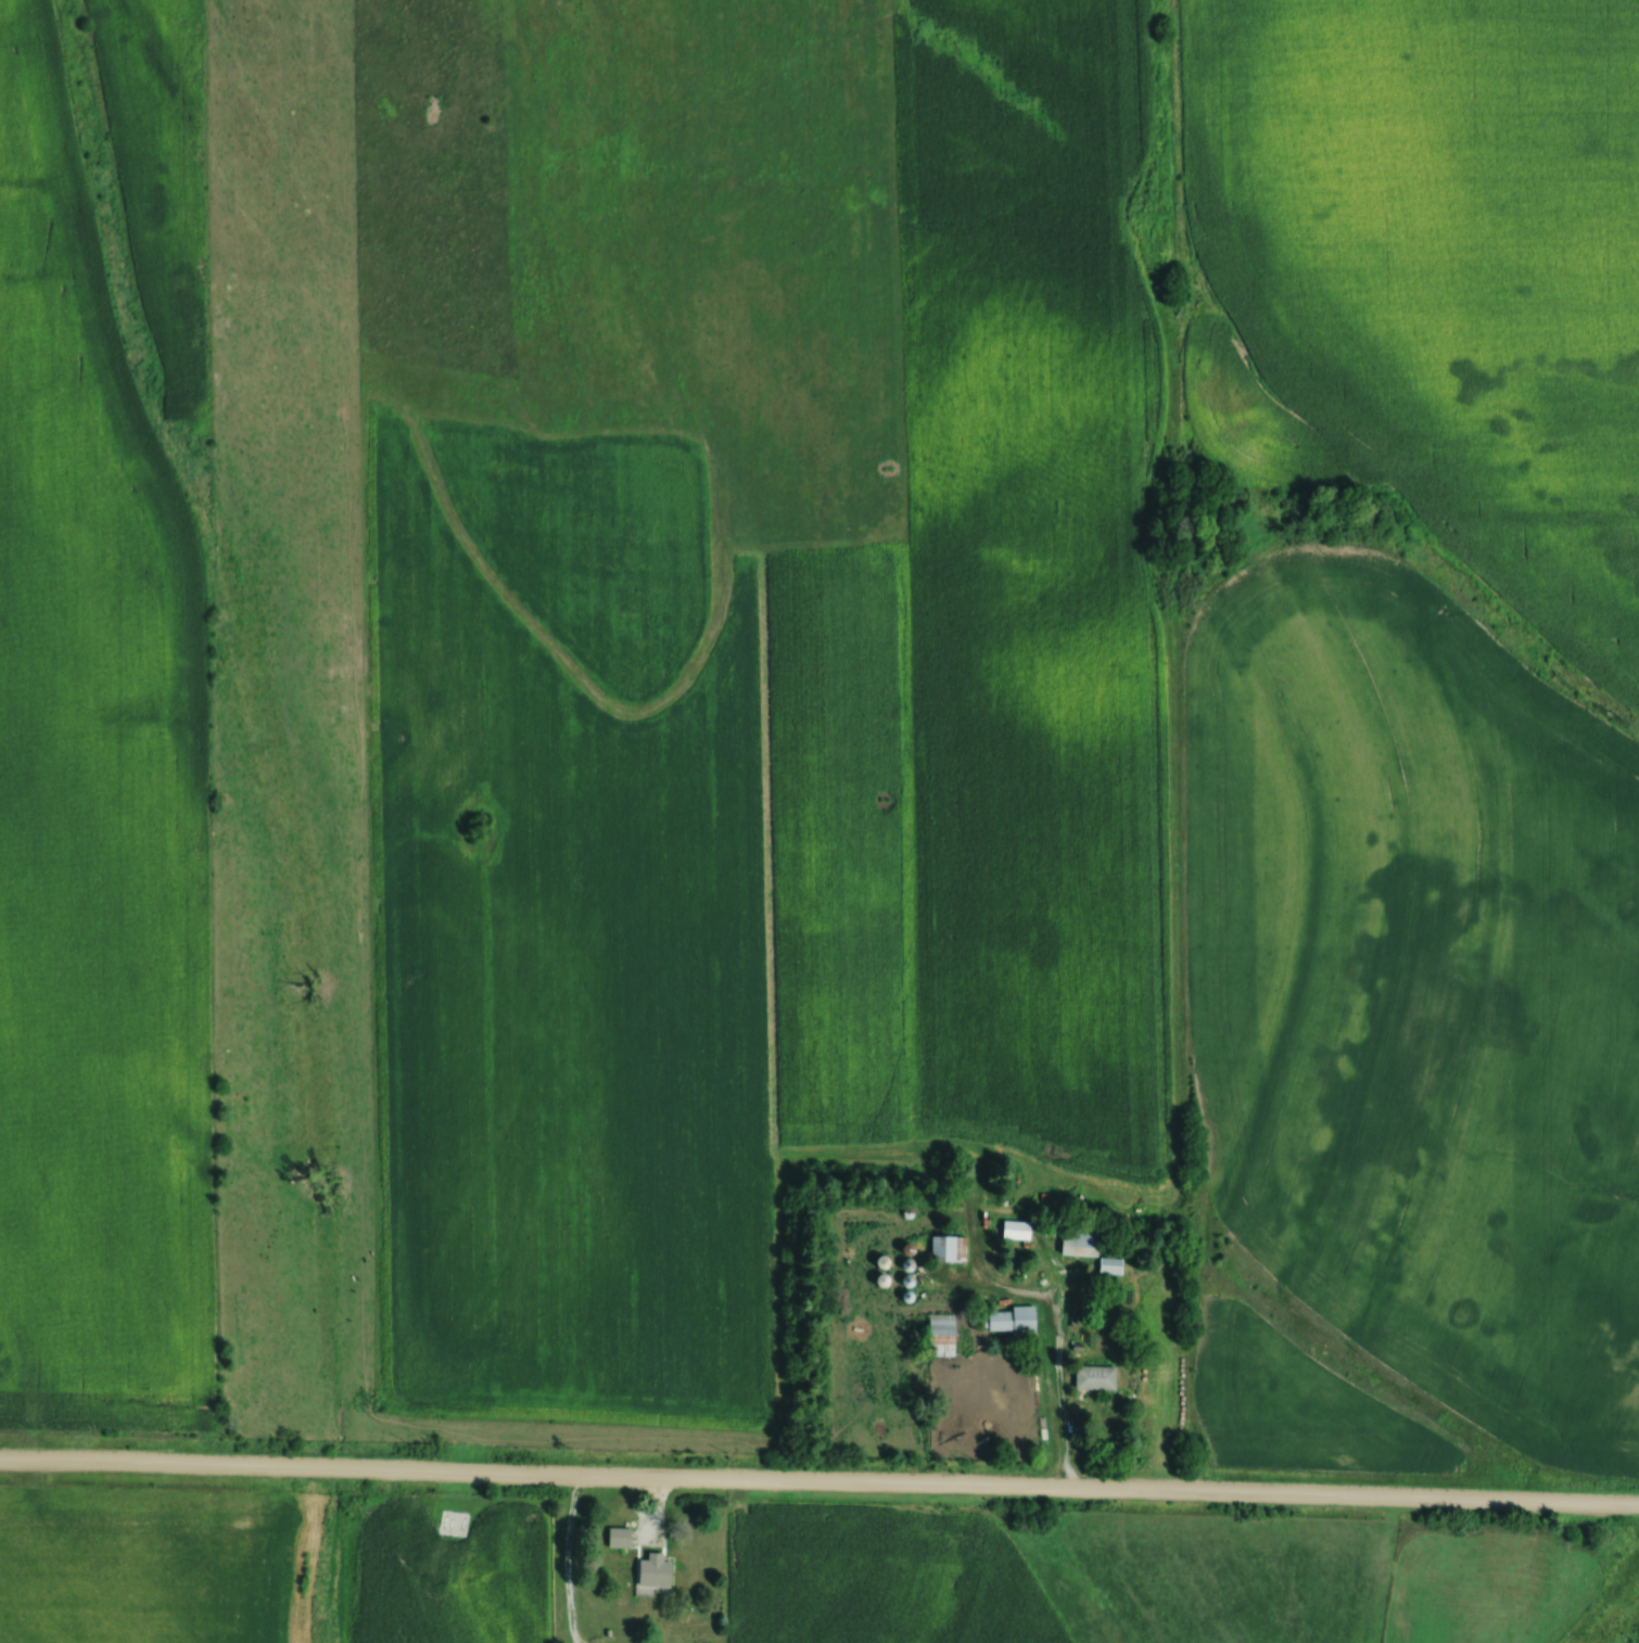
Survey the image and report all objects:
building: (1018, 1227)
building: (1083, 1239)
building: (951, 1246)
building: (1015, 1317)
building: (945, 1332)
building: (1097, 1374)
road: (1064, 1394)
road: (819, 1479)
building: (622, 1536)
road: (574, 1557)
building: (657, 1570)

